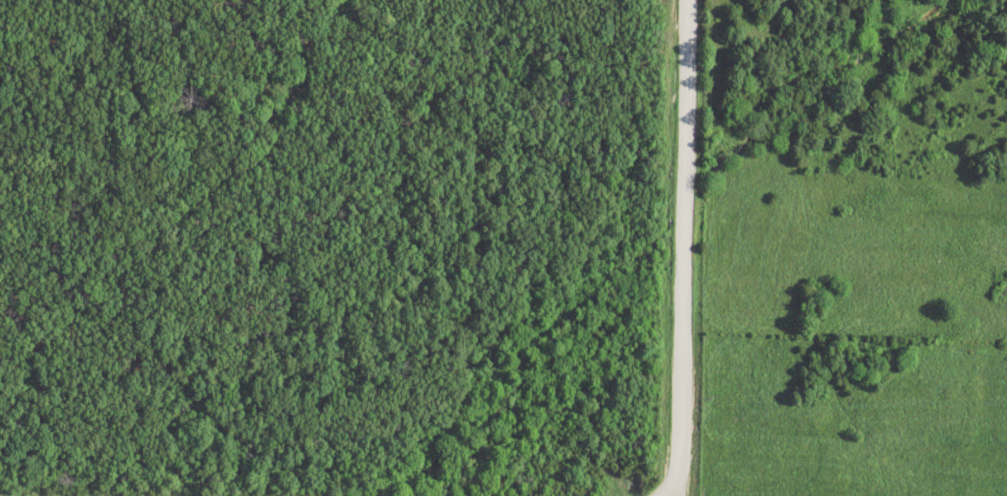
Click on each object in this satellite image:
road: (679, 248)

